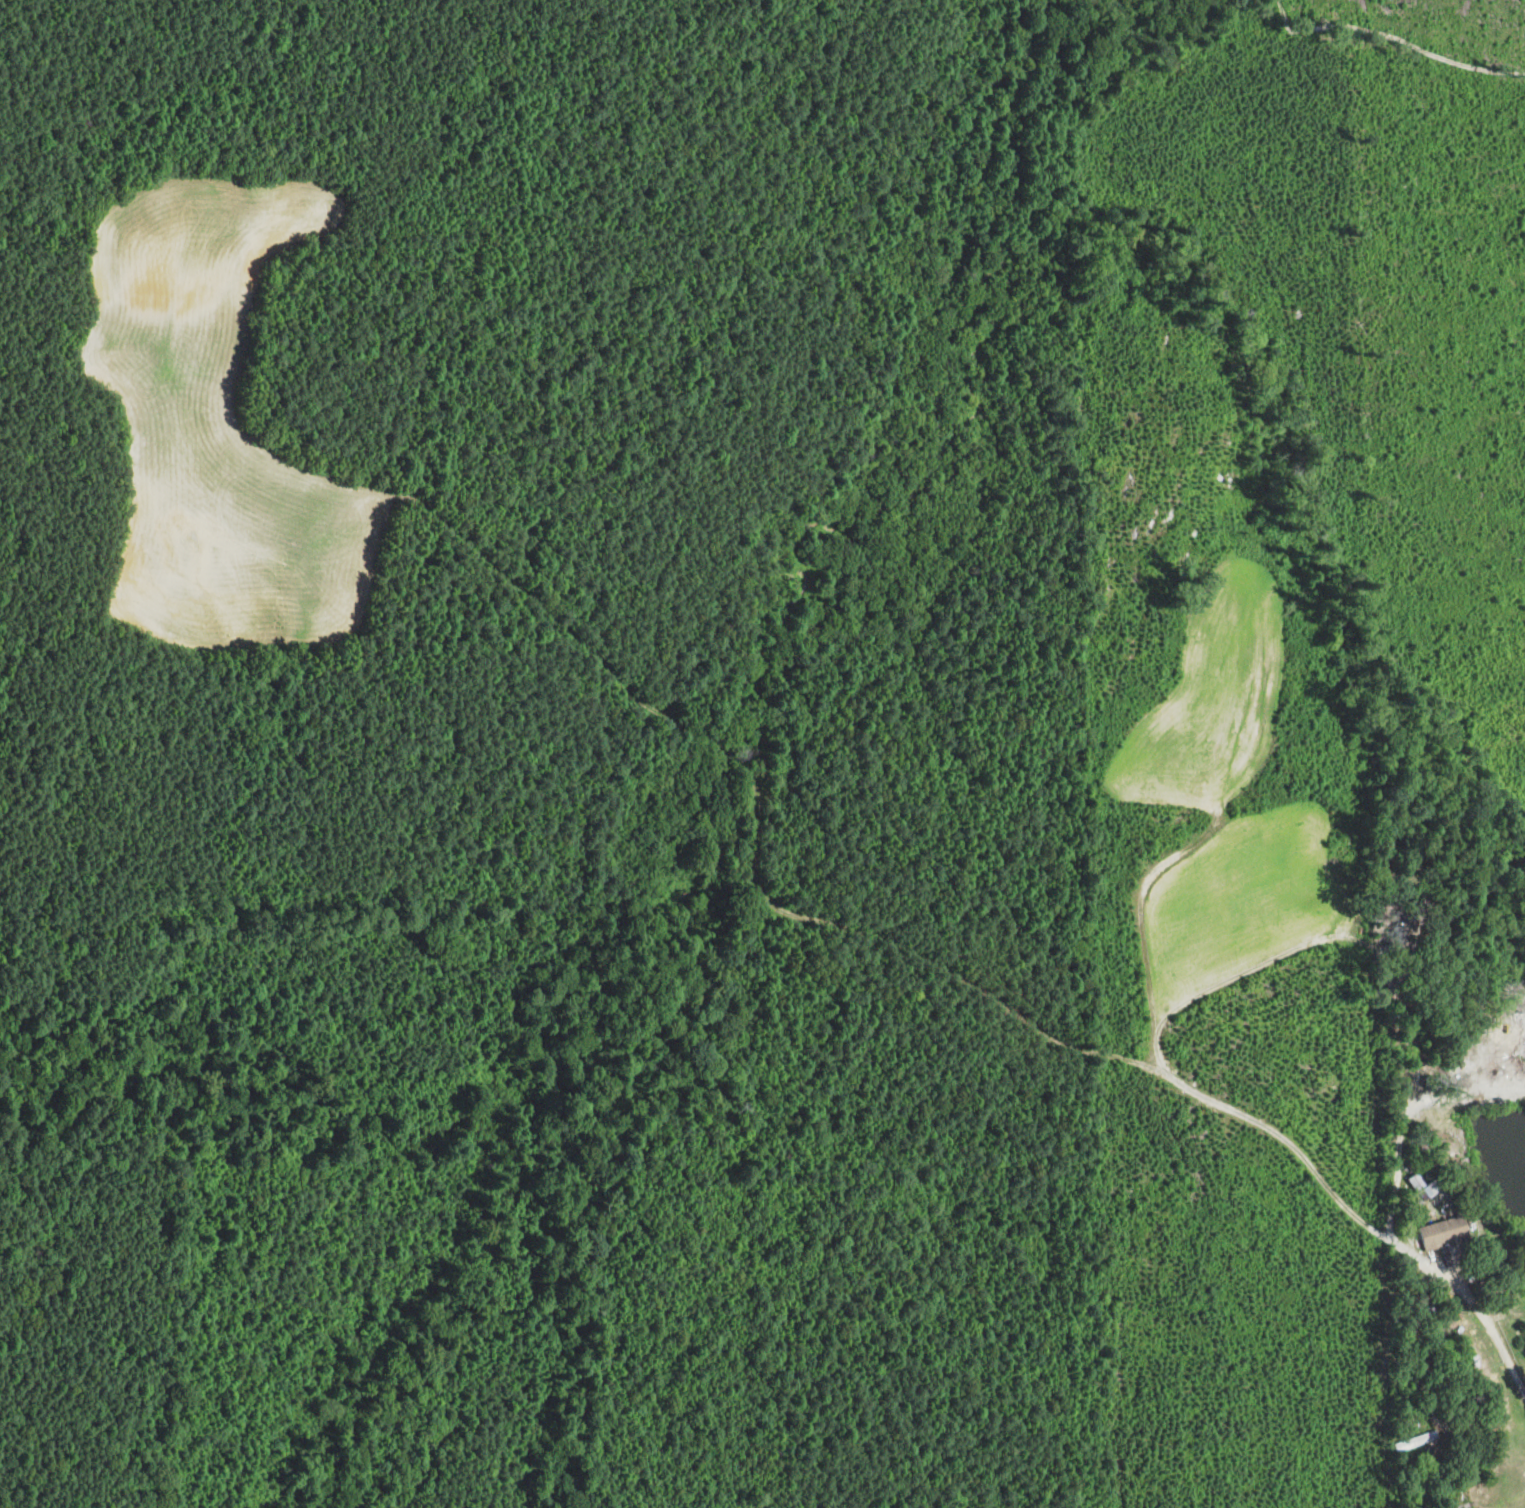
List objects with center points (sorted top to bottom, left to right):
building: (1446, 1230)
road: (1495, 1338)

